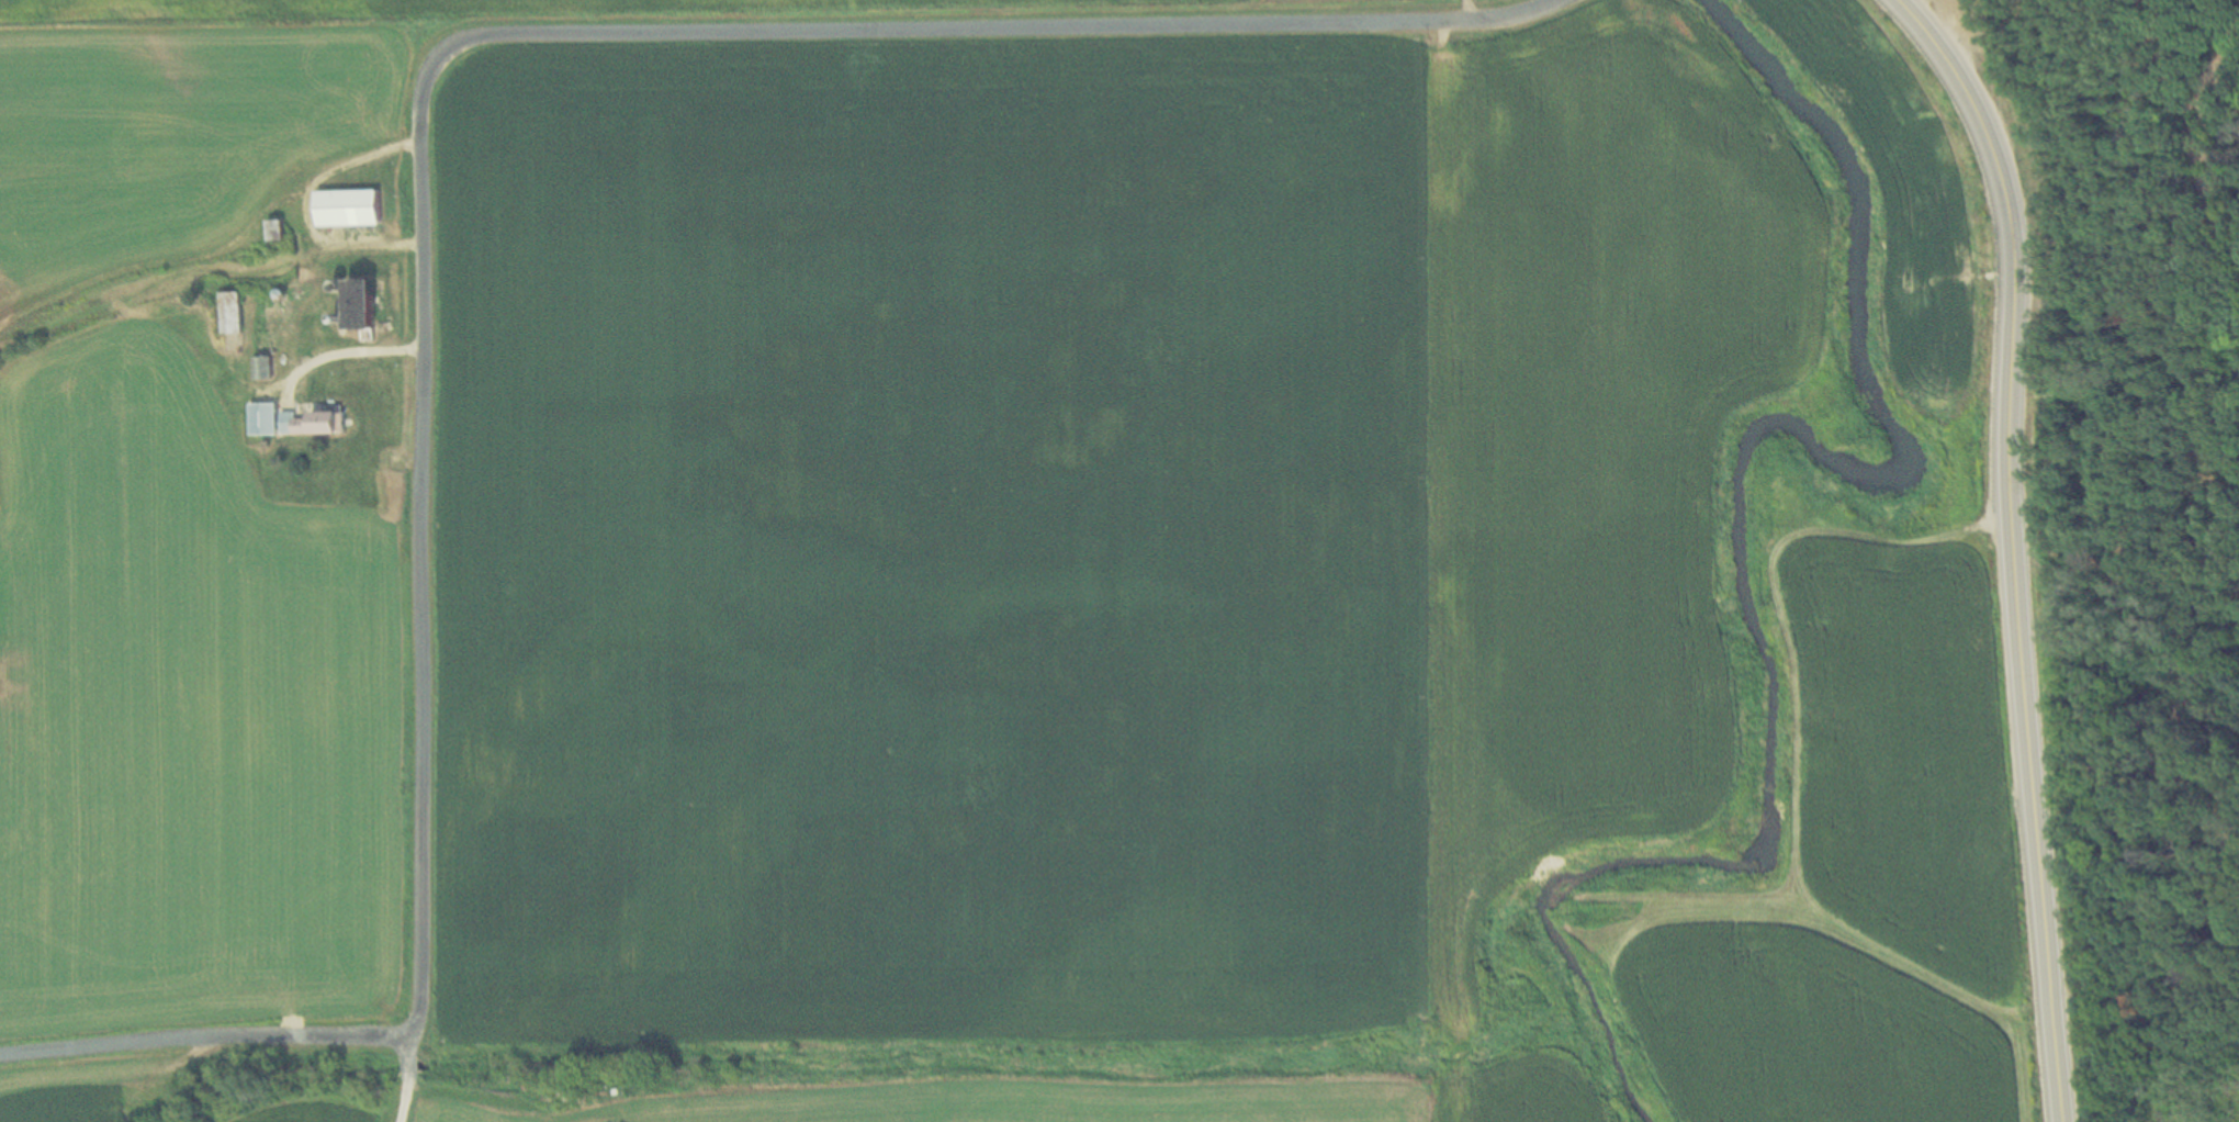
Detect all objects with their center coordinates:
road: (423, 179)
building: (352, 205)
building: (279, 227)
building: (364, 300)
building: (234, 308)
road: (347, 356)
building: (265, 366)
building: (266, 416)
building: (317, 420)
road: (2013, 542)
road: (408, 1045)
road: (406, 1076)
road: (402, 1107)

